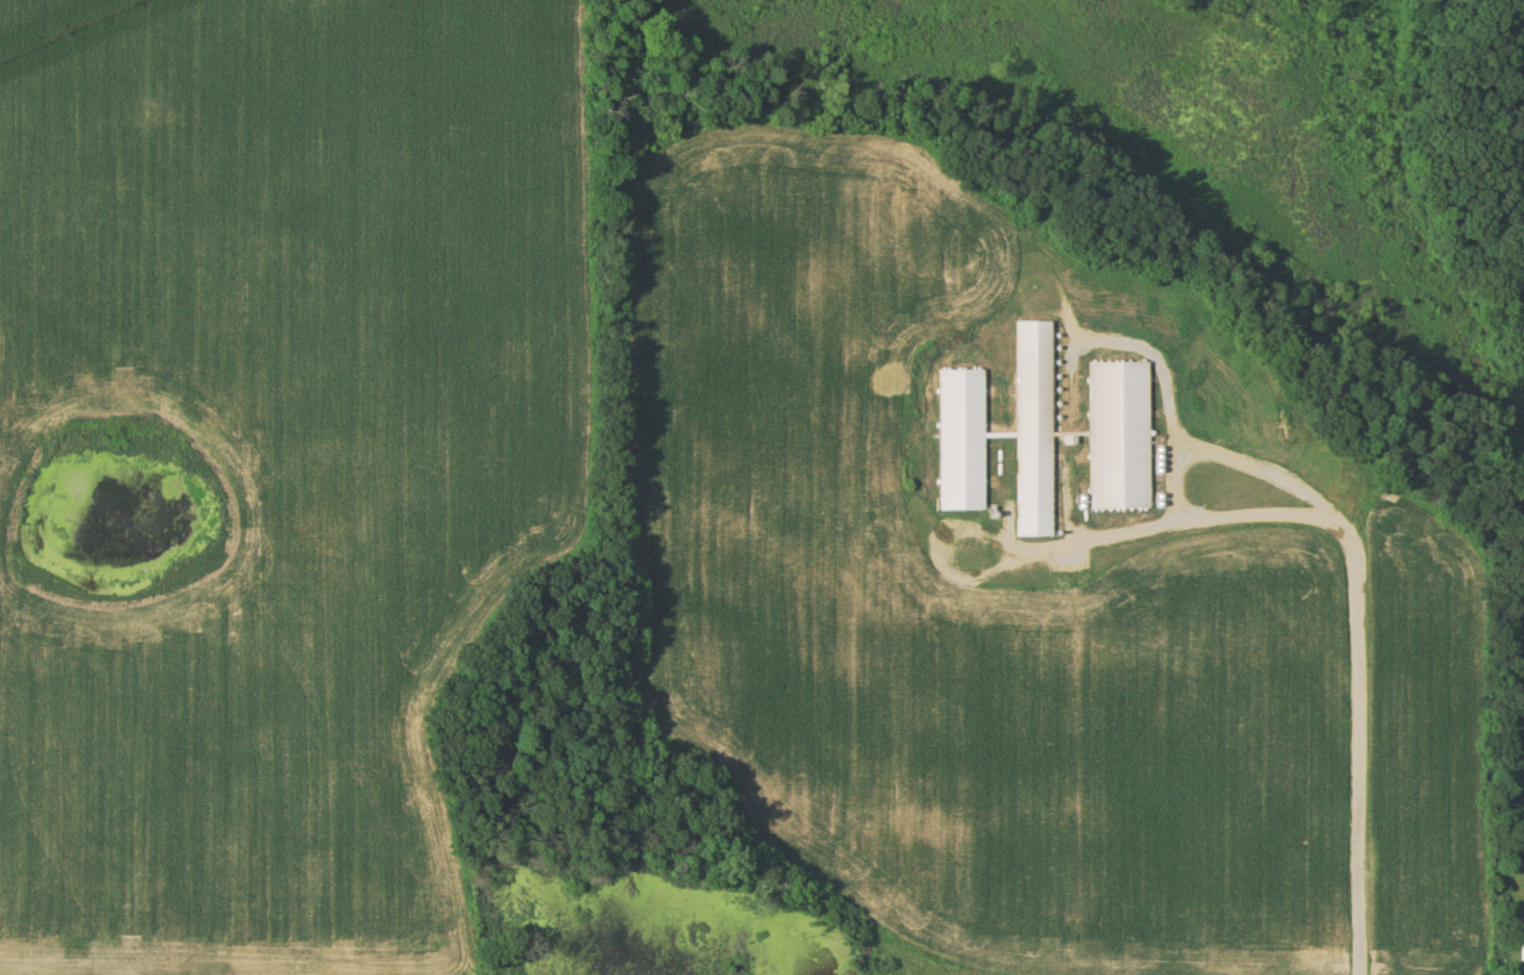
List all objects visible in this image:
building: (1034, 430)
building: (1119, 437)
building: (961, 441)
building: (1522, 951)

